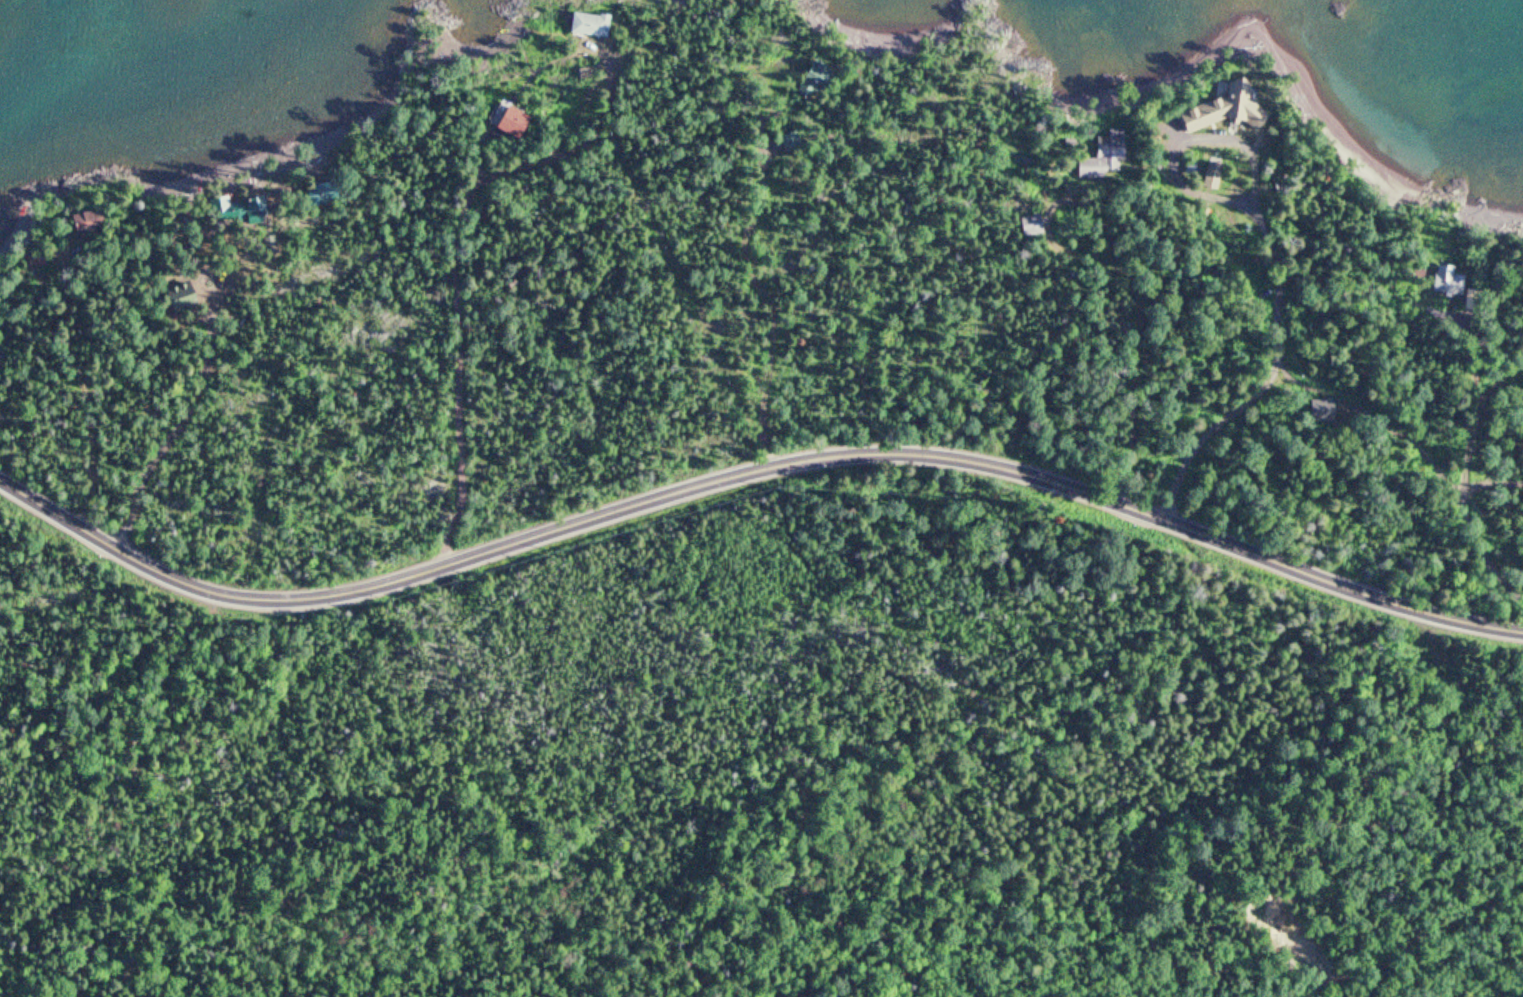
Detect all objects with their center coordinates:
building: (593, 26)
road: (560, 121)
building: (517, 124)
building: (1035, 225)
road: (459, 253)
road: (768, 266)
road: (1130, 331)
road: (1478, 345)
road: (1314, 370)
road: (80, 378)
road: (204, 382)
road: (1481, 415)
road: (1218, 416)
road: (753, 454)
road: (1485, 506)

